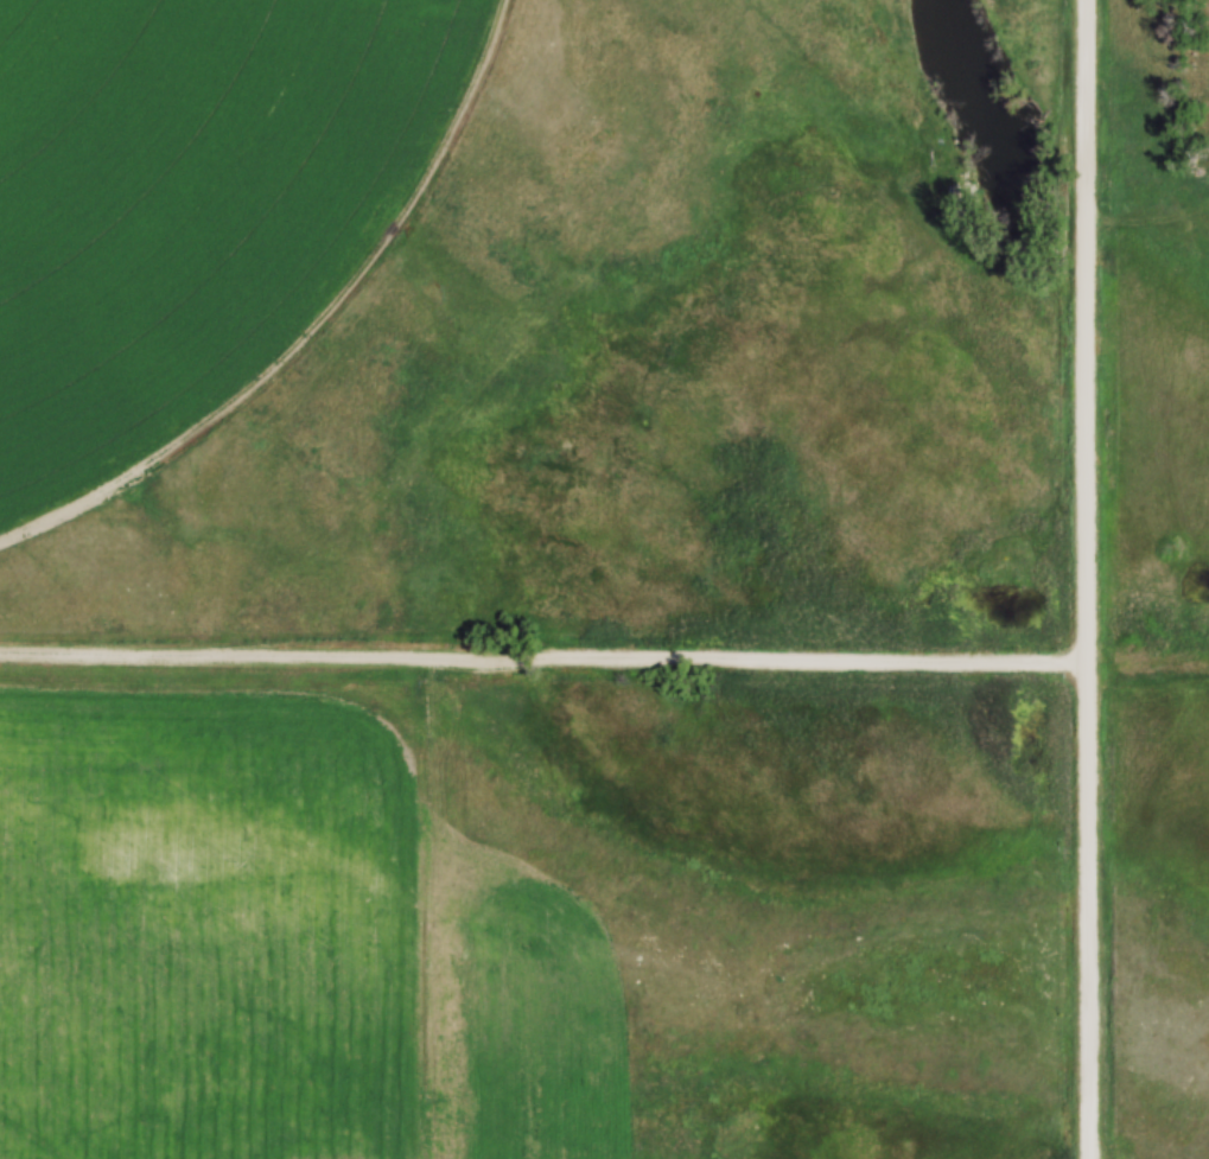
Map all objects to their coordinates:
road: (1087, 579)

